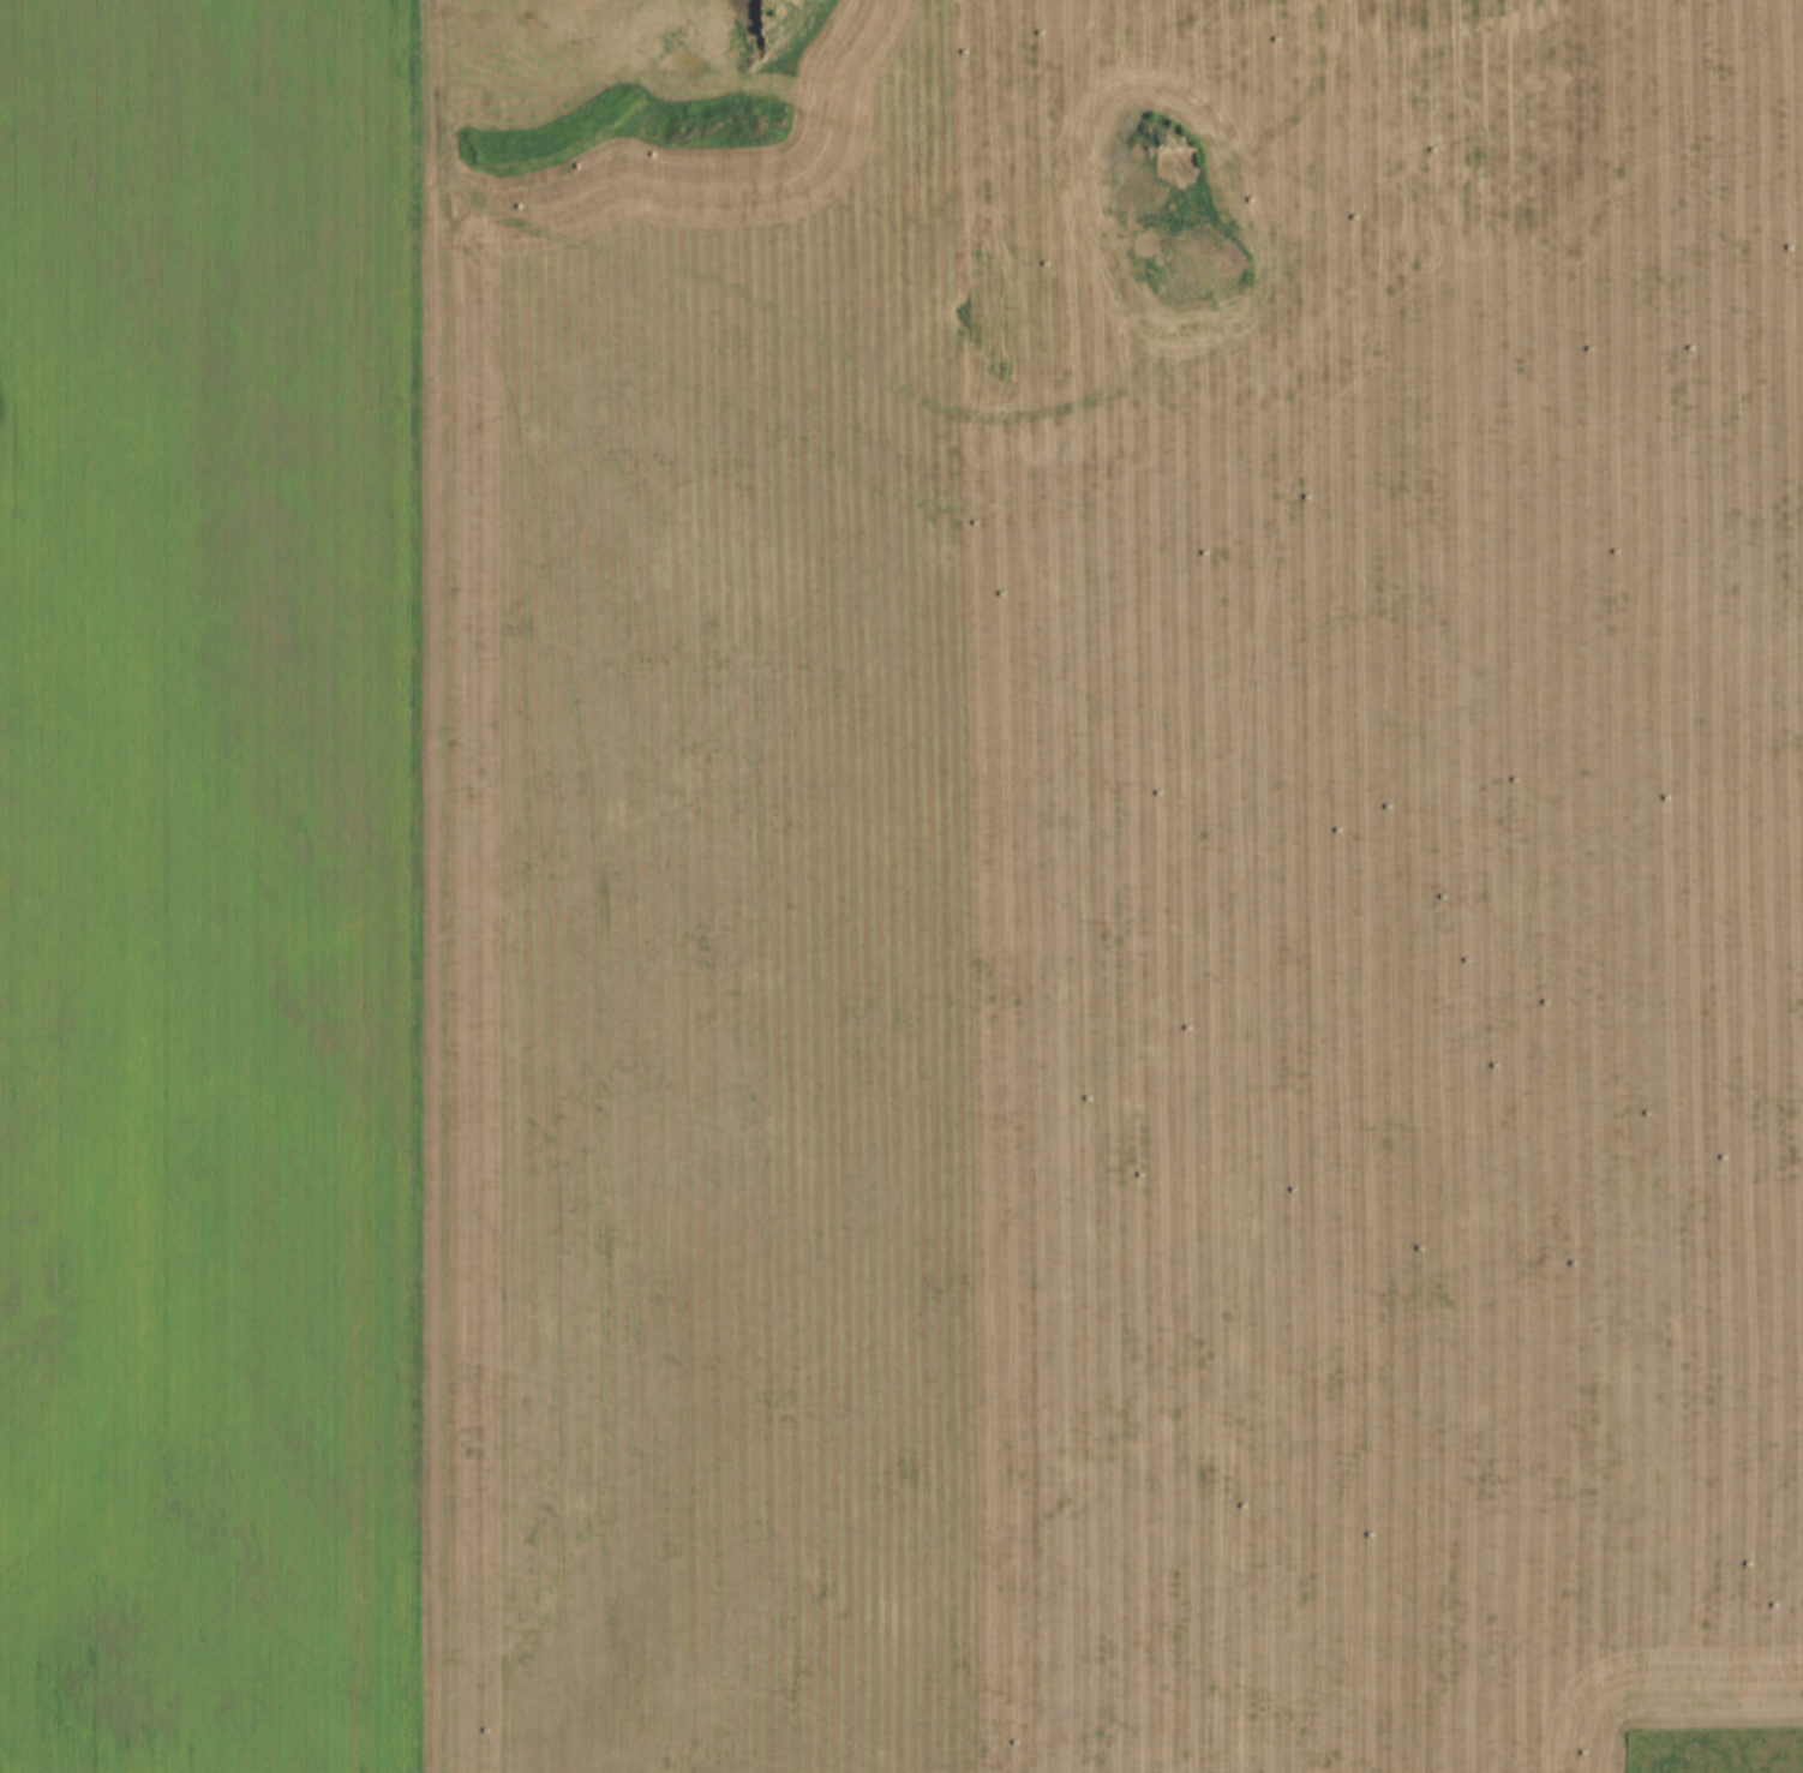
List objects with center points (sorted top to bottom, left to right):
quarry: (623, 60)
quarry: (1176, 209)
road: (430, 886)

